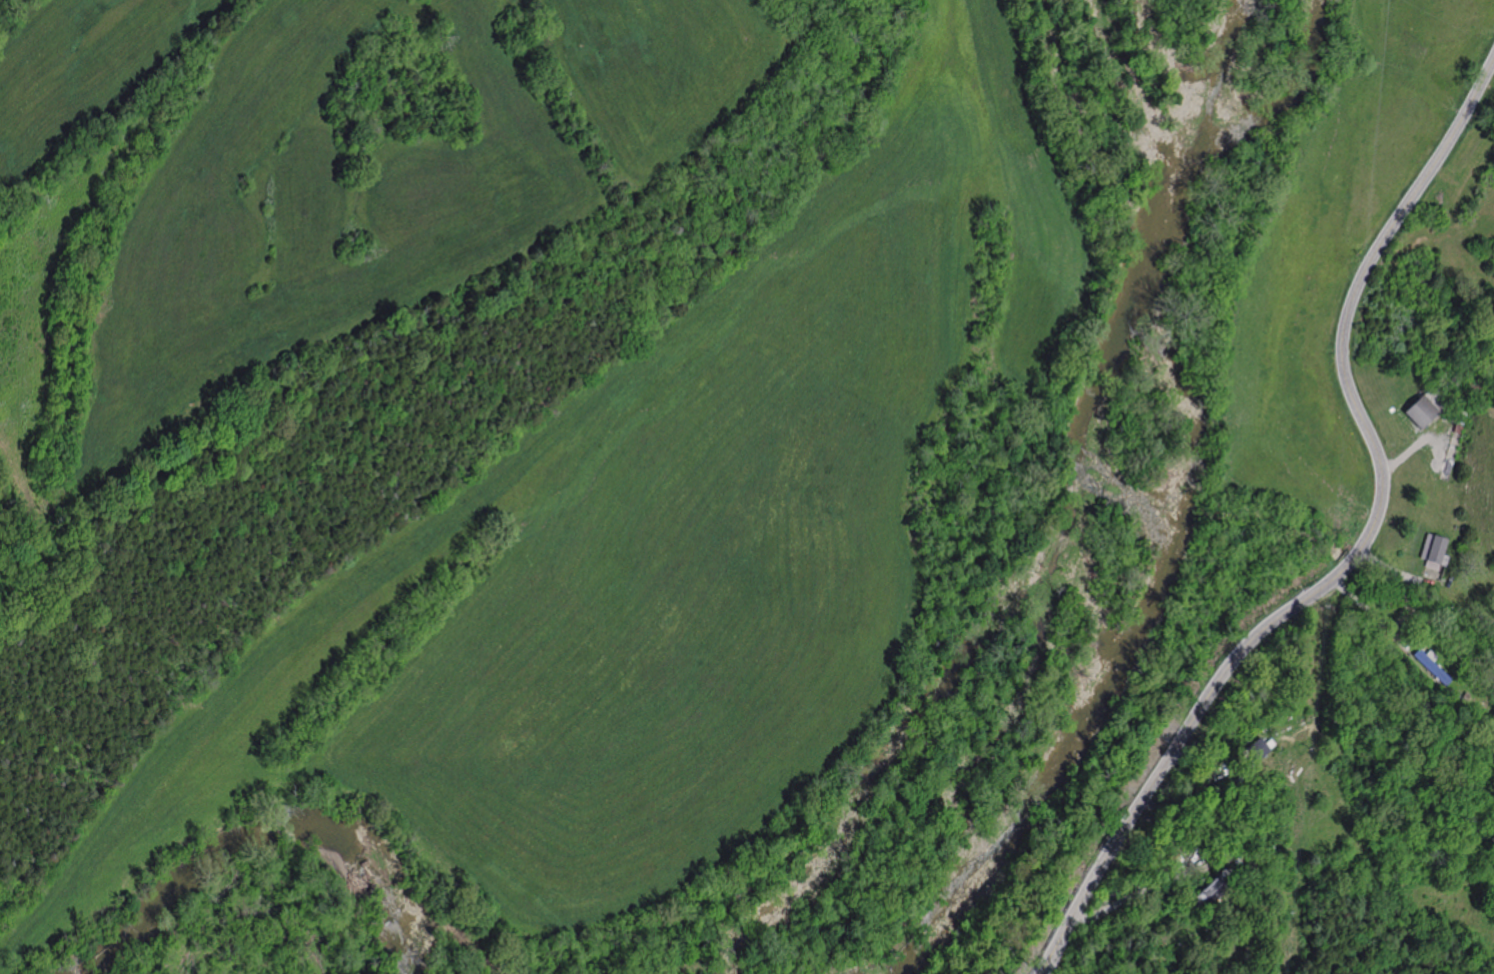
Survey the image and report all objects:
road: (1456, 228)
road: (373, 303)
building: (1424, 408)
road: (1409, 451)
road: (1360, 548)
building: (1433, 552)
road: (1393, 569)
road: (1464, 601)
road: (1370, 611)
building: (1430, 666)
building: (1465, 696)
building: (1256, 748)
road: (1190, 794)
building: (1169, 858)
building: (1211, 888)
road: (1141, 891)

